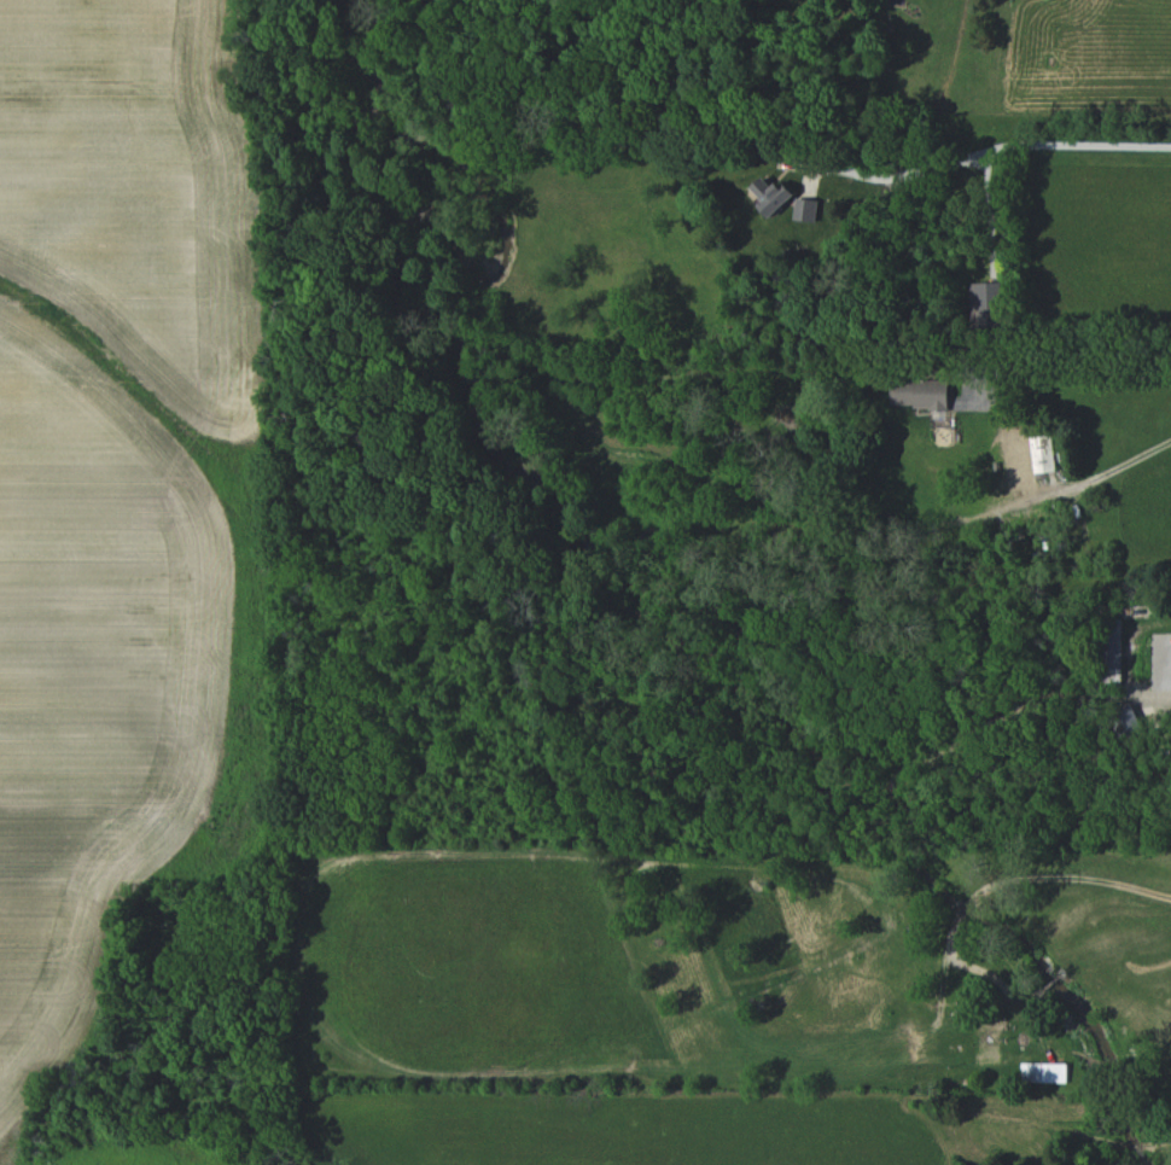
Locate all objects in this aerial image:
road: (985, 151)
building: (771, 196)
building: (805, 209)
building: (985, 304)
road: (1076, 369)
building: (919, 392)
building: (1111, 648)
building: (1043, 1072)

